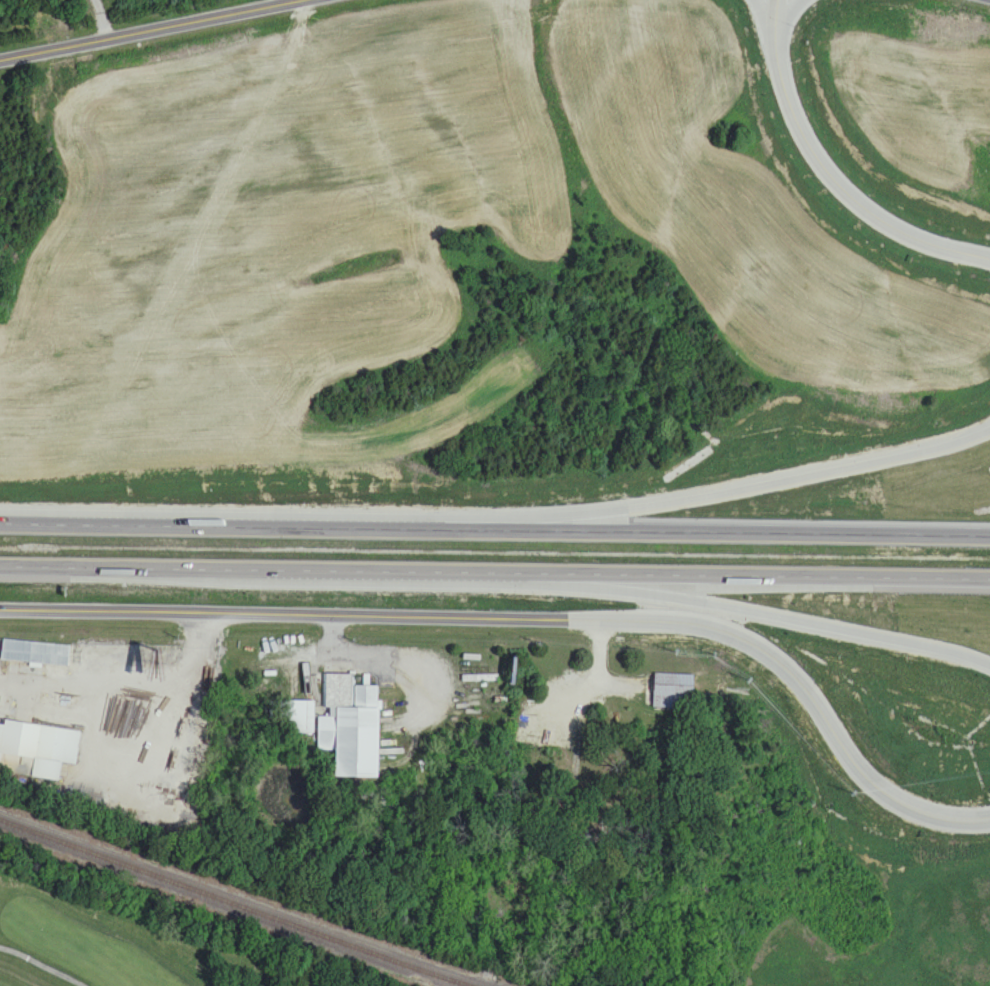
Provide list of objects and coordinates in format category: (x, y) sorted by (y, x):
road: (989, 0)
road: (103, 18)
road: (152, 28)
road: (829, 172)
road: (750, 479)
road: (494, 530)
road: (494, 577)
road: (779, 616)
road: (531, 623)
building: (35, 654)
road: (380, 656)
road: (198, 658)
road: (595, 679)
road: (46, 680)
building: (673, 693)
building: (296, 717)
building: (350, 728)
building: (24, 748)
road: (103, 775)
railway: (246, 902)
road: (42, 965)

